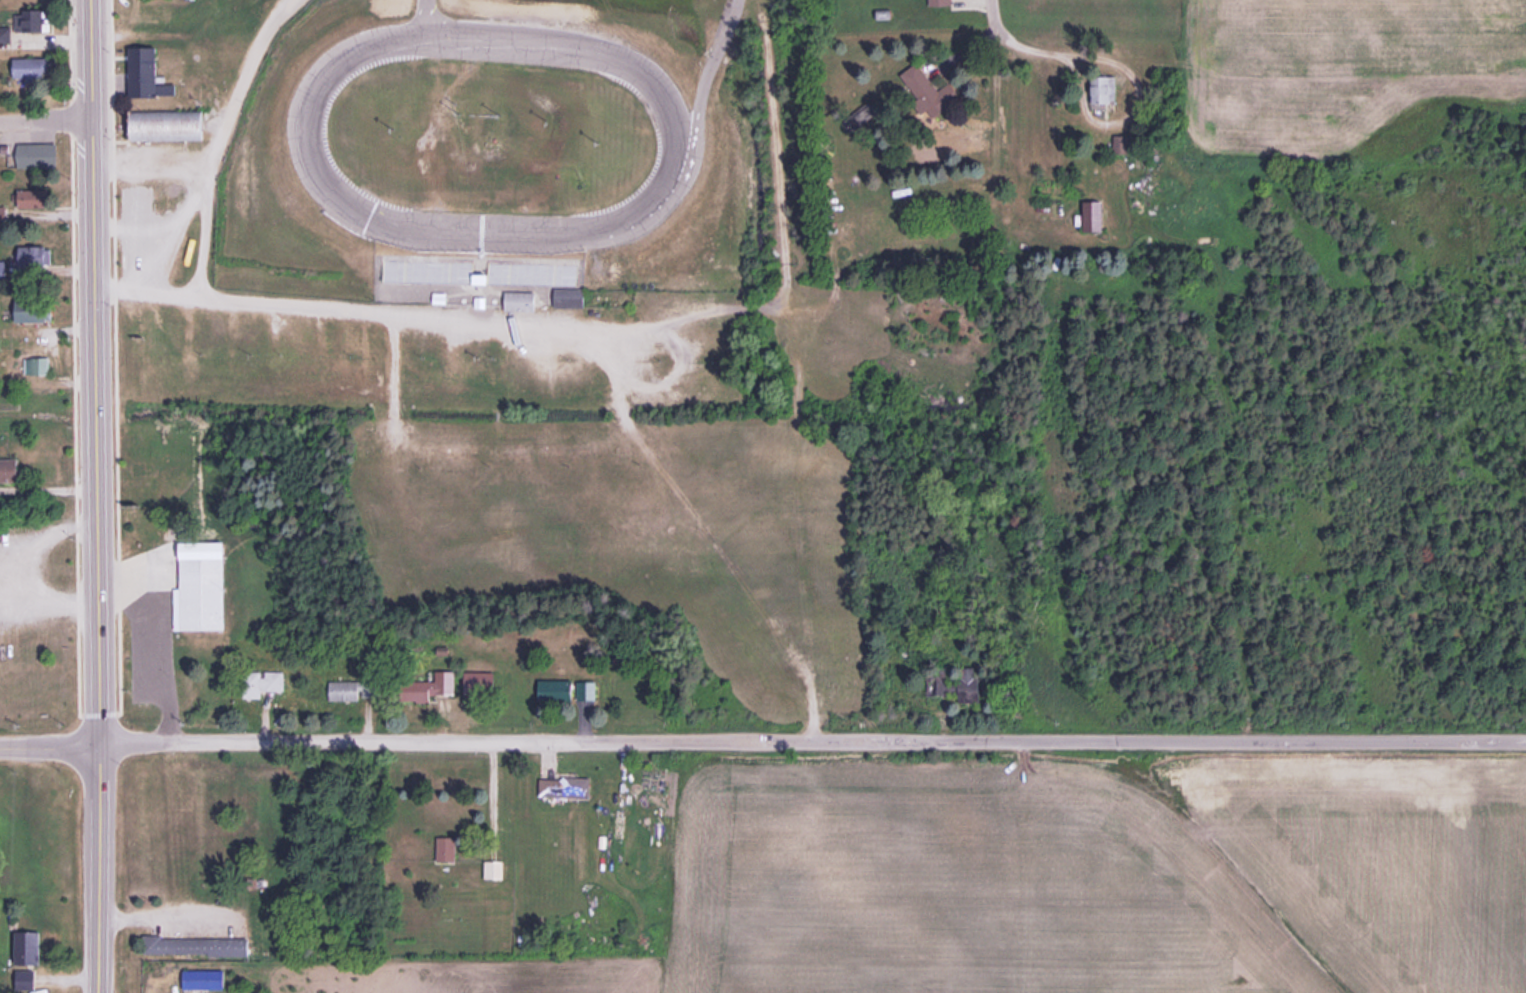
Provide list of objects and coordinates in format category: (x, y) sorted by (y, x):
building: (940, 3)
road: (427, 12)
building: (41, 20)
road: (994, 24)
raceway: (563, 30)
building: (30, 69)
building: (143, 73)
road: (703, 83)
building: (921, 85)
building: (1104, 90)
road: (47, 120)
building: (170, 125)
road: (220, 141)
building: (38, 155)
building: (3, 215)
building: (146, 234)
building: (30, 256)
building: (429, 272)
building: (540, 280)
building: (520, 301)
building: (33, 312)
road: (363, 314)
building: (45, 366)
road: (96, 372)
building: (204, 593)
building: (272, 679)
building: (481, 684)
building: (431, 687)
building: (356, 688)
building: (954, 688)
building: (567, 690)
road: (813, 742)
road: (50, 745)
building: (564, 787)
building: (446, 848)
road: (98, 869)
building: (494, 869)
building: (197, 946)
building: (29, 967)
building: (203, 980)

